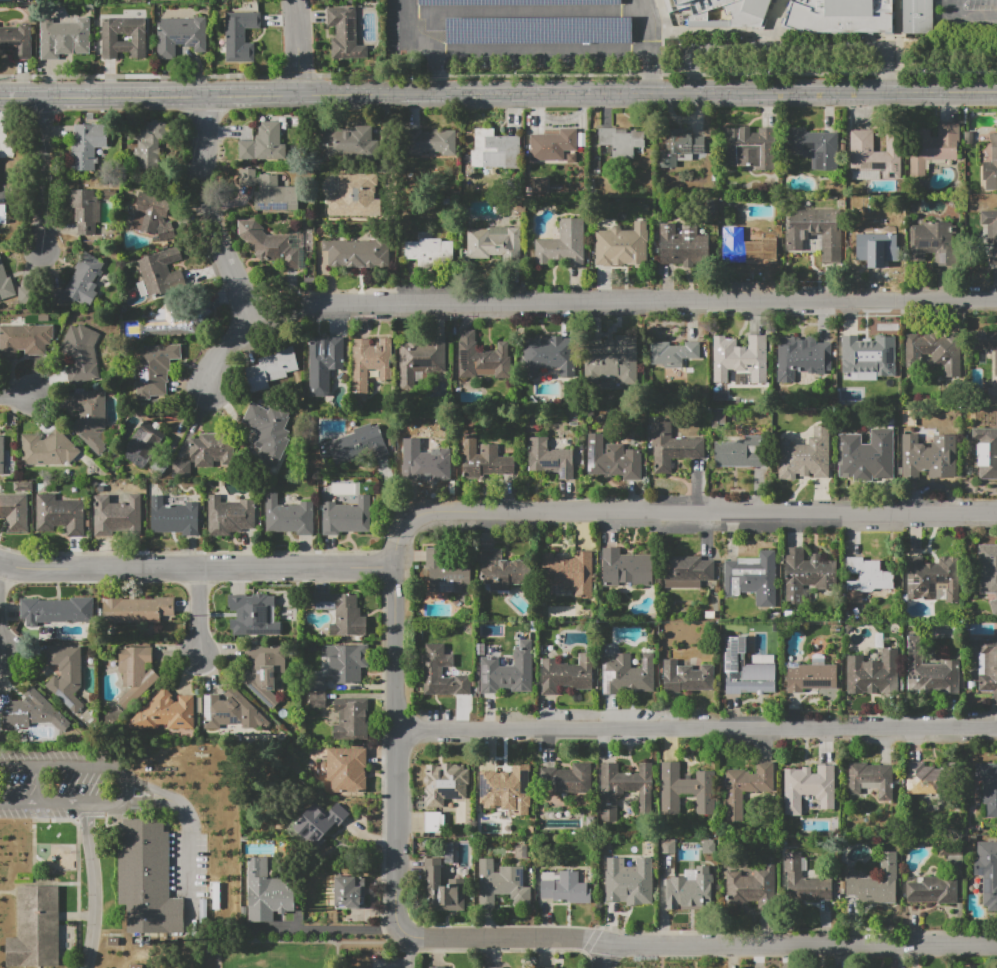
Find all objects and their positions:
building: (514, 2)
building: (671, 3)
road: (528, 12)
building: (718, 13)
parking lot: (966, 15)
building: (840, 16)
building: (916, 16)
road: (405, 19)
road: (771, 23)
parking lot: (543, 24)
road: (900, 24)
building: (345, 33)
road: (665, 34)
building: (181, 35)
building: (240, 36)
building: (63, 38)
building: (109, 38)
building: (16, 40)
road: (297, 46)
road: (652, 46)
road: (790, 46)
road: (543, 50)
road: (435, 56)
road: (498, 74)
road: (149, 94)
road: (648, 94)
building: (428, 138)
building: (619, 142)
building: (149, 143)
building: (264, 143)
building: (348, 143)
building: (553, 144)
building: (86, 145)
building: (679, 146)
building: (933, 146)
building: (749, 147)
building: (815, 147)
building: (495, 149)
building: (874, 156)
building: (991, 166)
road: (47, 167)
building: (541, 185)
building: (270, 191)
building: (109, 194)
building: (355, 196)
road: (206, 205)
building: (85, 210)
building: (3, 215)
building: (152, 215)
building: (815, 230)
building: (991, 233)
building: (932, 242)
building: (495, 243)
building: (268, 244)
building: (563, 244)
building: (683, 244)
building: (622, 245)
building: (747, 248)
building: (428, 252)
building: (879, 252)
building: (357, 253)
building: (160, 272)
building: (84, 280)
building: (6, 285)
road: (621, 306)
building: (170, 321)
building: (24, 340)
road: (227, 350)
building: (935, 351)
building: (672, 353)
building: (82, 354)
building: (873, 354)
building: (548, 355)
building: (801, 357)
building: (482, 358)
building: (741, 358)
building: (420, 359)
building: (612, 360)
building: (324, 362)
building: (996, 362)
building: (369, 363)
building: (154, 369)
building: (271, 369)
road: (15, 395)
building: (89, 417)
road: (195, 418)
building: (269, 429)
building: (142, 443)
building: (356, 444)
building: (672, 447)
building: (47, 449)
building: (212, 449)
building: (986, 452)
building: (740, 453)
building: (2, 455)
building: (865, 455)
building: (805, 456)
building: (928, 457)
building: (423, 459)
building: (550, 459)
building: (612, 459)
building: (483, 460)
building: (180, 468)
building: (21, 486)
building: (14, 512)
road: (677, 512)
building: (59, 514)
building: (230, 515)
building: (174, 516)
building: (289, 516)
building: (346, 516)
building: (118, 517)
road: (197, 565)
building: (626, 567)
building: (503, 570)
building: (686, 571)
building: (988, 572)
building: (448, 573)
building: (567, 574)
building: (806, 574)
building: (752, 578)
building: (866, 578)
building: (933, 579)
road: (200, 609)
building: (57, 610)
building: (136, 610)
building: (342, 613)
building: (254, 615)
road: (3, 642)
building: (348, 662)
building: (988, 667)
building: (928, 669)
building: (747, 670)
building: (264, 672)
building: (509, 672)
building: (135, 673)
building: (441, 673)
building: (628, 673)
building: (567, 674)
building: (873, 674)
building: (66, 675)
building: (810, 677)
building: (687, 678)
building: (316, 683)
building: (317, 699)
building: (229, 710)
building: (30, 711)
building: (166, 713)
building: (352, 718)
road: (696, 727)
road: (395, 748)
building: (347, 770)
building: (873, 777)
building: (924, 778)
building: (567, 779)
road: (40, 781)
road: (126, 781)
parking lot: (63, 783)
building: (445, 783)
building: (746, 787)
building: (808, 787)
building: (987, 787)
building: (625, 788)
building: (505, 790)
building: (687, 790)
road: (167, 794)
road: (54, 821)
building: (320, 821)
building: (434, 822)
road: (88, 828)
park: (57, 846)
road: (190, 863)
parking lot: (187, 865)
building: (988, 872)
building: (145, 879)
building: (803, 882)
building: (876, 882)
road: (74, 884)
building: (502, 884)
building: (753, 886)
building: (564, 887)
building: (627, 887)
building: (443, 889)
building: (932, 889)
building: (268, 892)
building: (346, 892)
building: (688, 899)
road: (95, 911)
building: (40, 928)
road: (504, 939)
road: (298, 941)
road: (803, 944)
road: (411, 952)
road: (340, 954)
road: (604, 955)
park: (279, 956)
building: (436, 967)
building: (493, 967)

